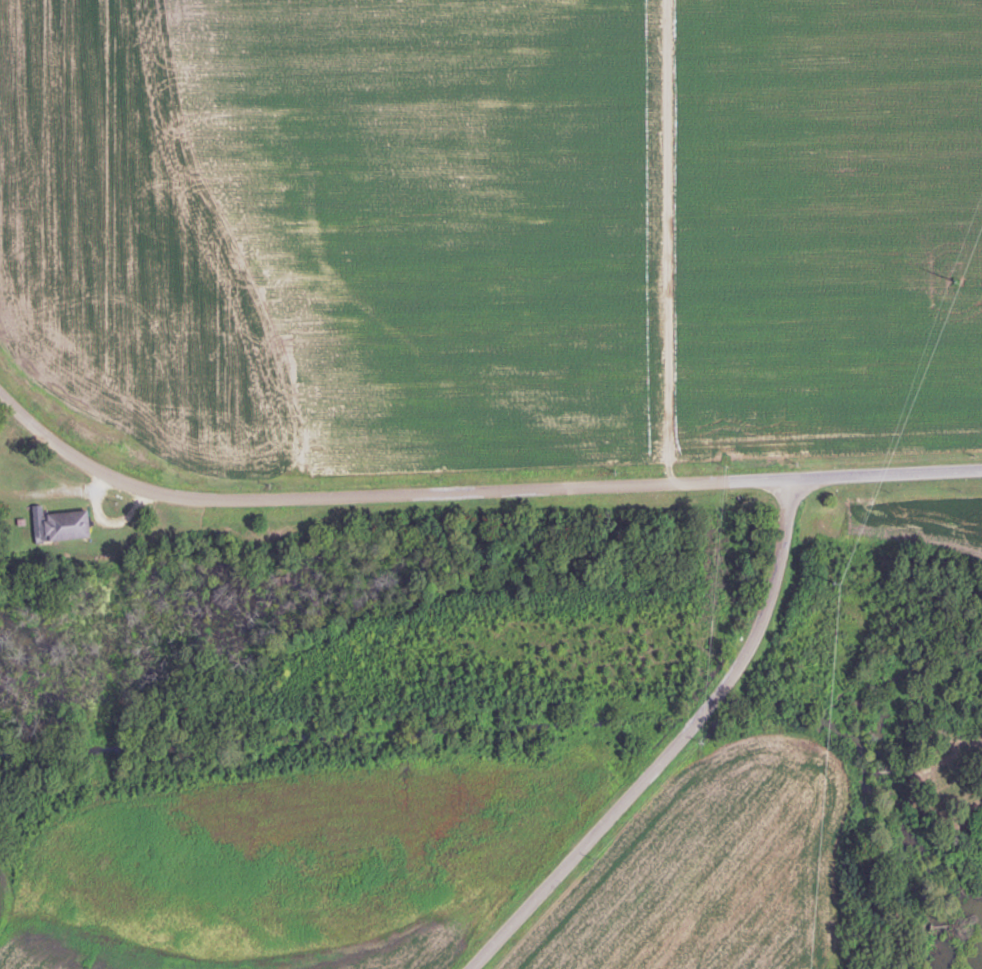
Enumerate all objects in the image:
power tower: (956, 281)
road: (475, 491)
building: (62, 526)
power tower: (837, 583)
road: (670, 746)

